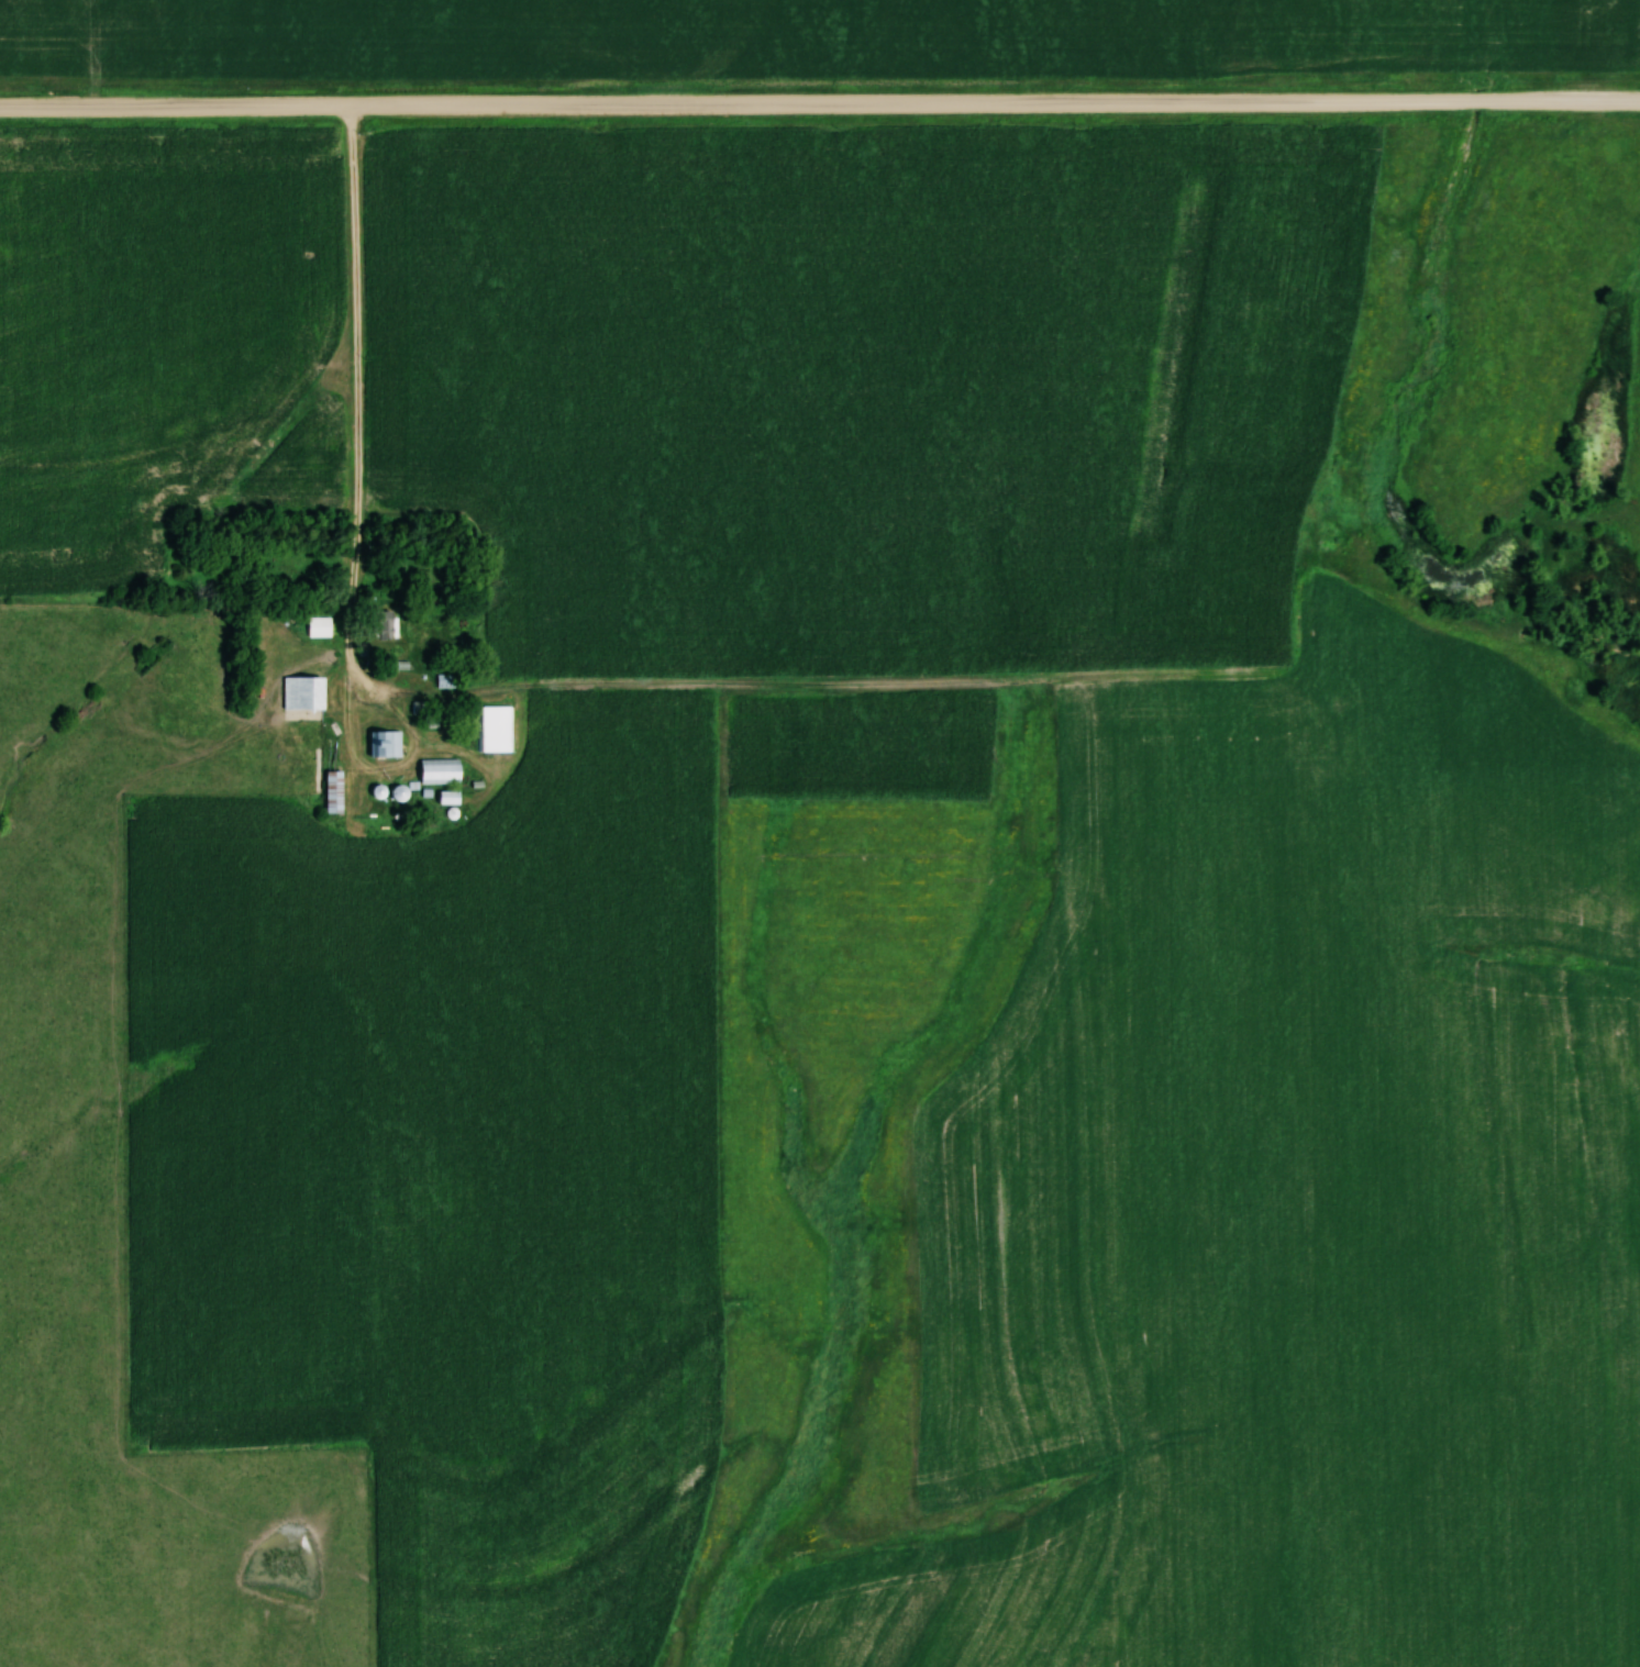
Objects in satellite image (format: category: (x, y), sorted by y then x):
road: (819, 107)
road: (361, 371)
building: (389, 624)
building: (323, 626)
building: (308, 693)
building: (500, 729)
building: (388, 744)
building: (444, 771)
building: (339, 792)
building: (454, 798)

